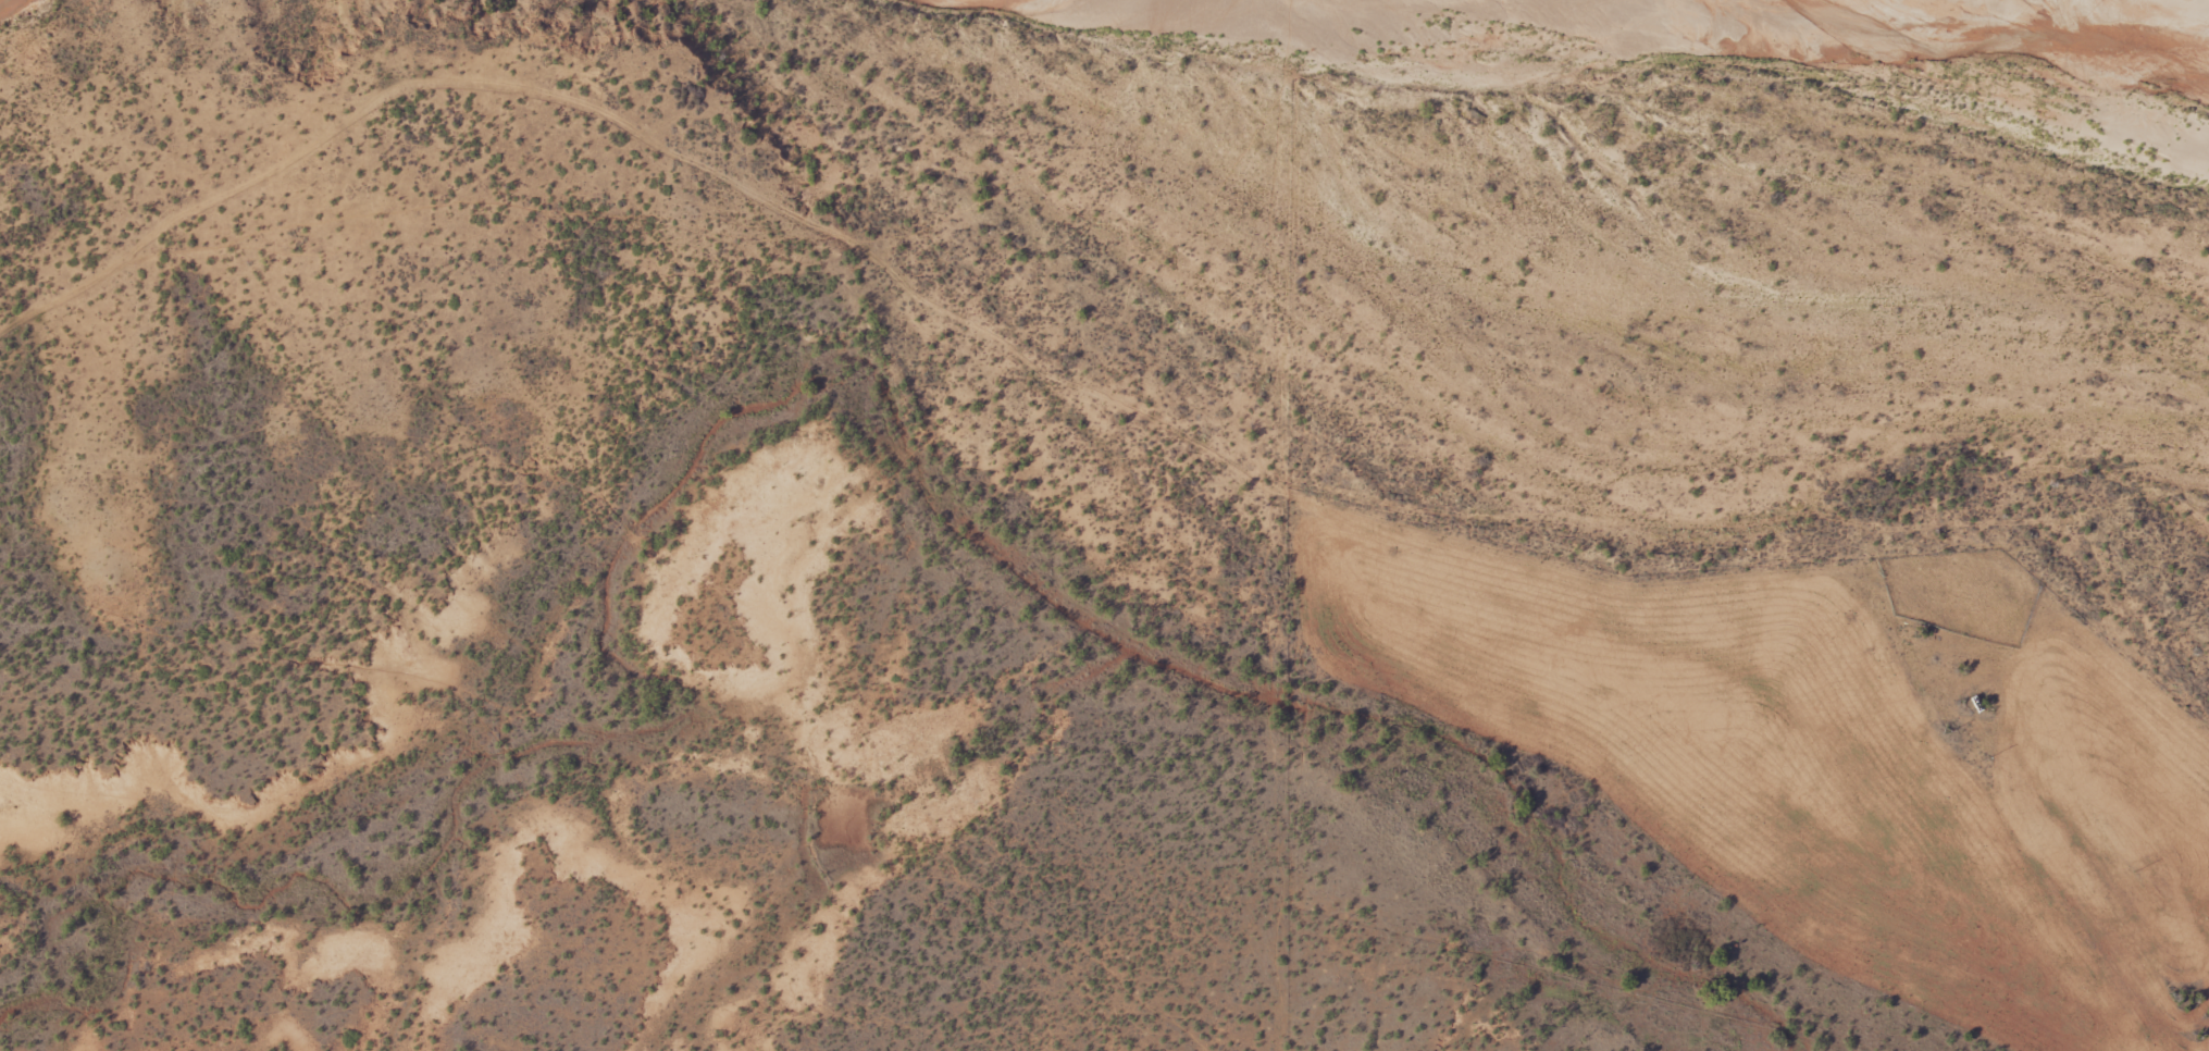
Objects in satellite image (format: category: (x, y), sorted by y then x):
river: (2067, 23)

